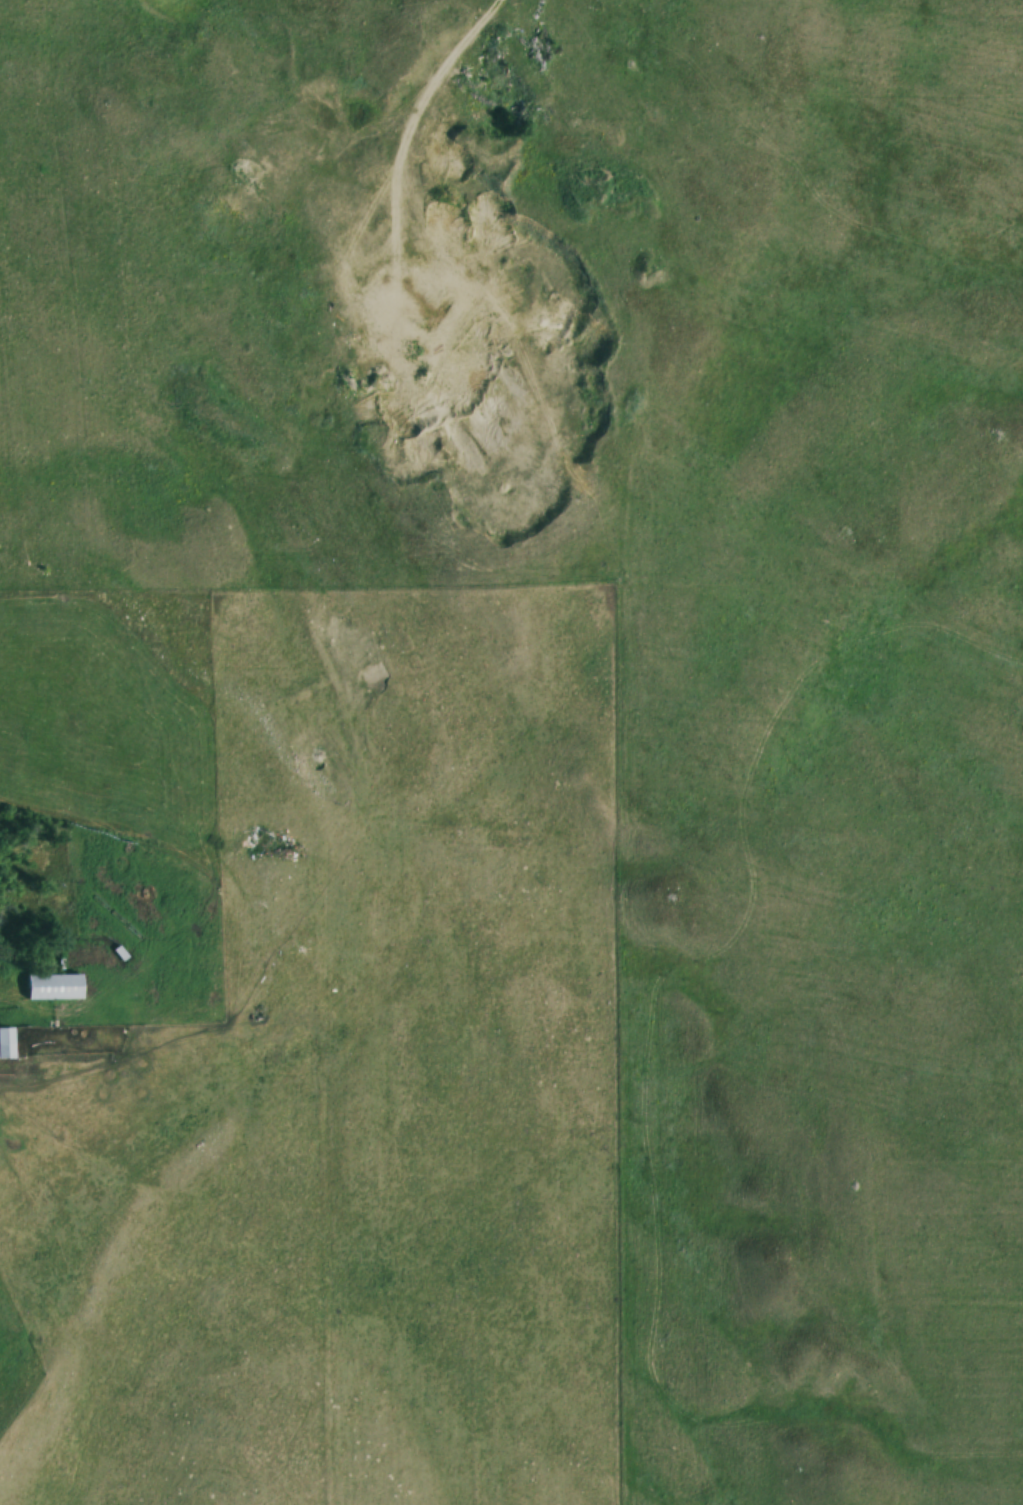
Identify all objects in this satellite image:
road: (419, 144)
building: (55, 987)
building: (7, 1043)

